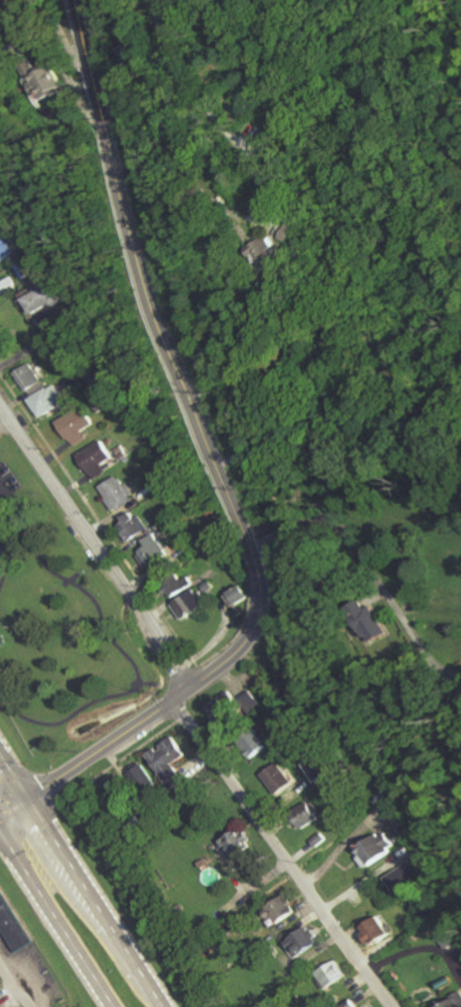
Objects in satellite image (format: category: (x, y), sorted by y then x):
road: (60, 37)
building: (128, 52)
building: (38, 79)
road: (217, 121)
building: (2, 250)
building: (261, 250)
building: (3, 284)
building: (39, 296)
road: (171, 363)
building: (27, 379)
building: (44, 401)
road: (4, 424)
building: (72, 426)
building: (92, 459)
road: (3, 492)
building: (113, 492)
road: (2, 494)
building: (129, 525)
road: (98, 546)
building: (150, 550)
road: (11, 559)
road: (366, 568)
building: (173, 585)
building: (234, 595)
building: (187, 603)
building: (363, 622)
flagpole: (14, 628)
building: (2, 642)
road: (132, 661)
building: (286, 678)
road: (149, 684)
road: (177, 697)
building: (220, 708)
building: (252, 744)
road: (85, 759)
building: (166, 763)
building: (318, 766)
road: (16, 771)
building: (274, 777)
building: (138, 779)
traffic signals: (32, 797)
building: (302, 815)
building: (233, 841)
building: (372, 846)
road: (280, 853)
building: (400, 878)
road: (89, 891)
building: (278, 908)
road: (55, 919)
building: (13, 927)
building: (371, 929)
building: (301, 939)
parking lot: (31, 968)
building: (329, 973)
road: (14, 986)
road: (154, 996)
building: (450, 1001)
building: (347, 1004)
building: (365, 1006)

